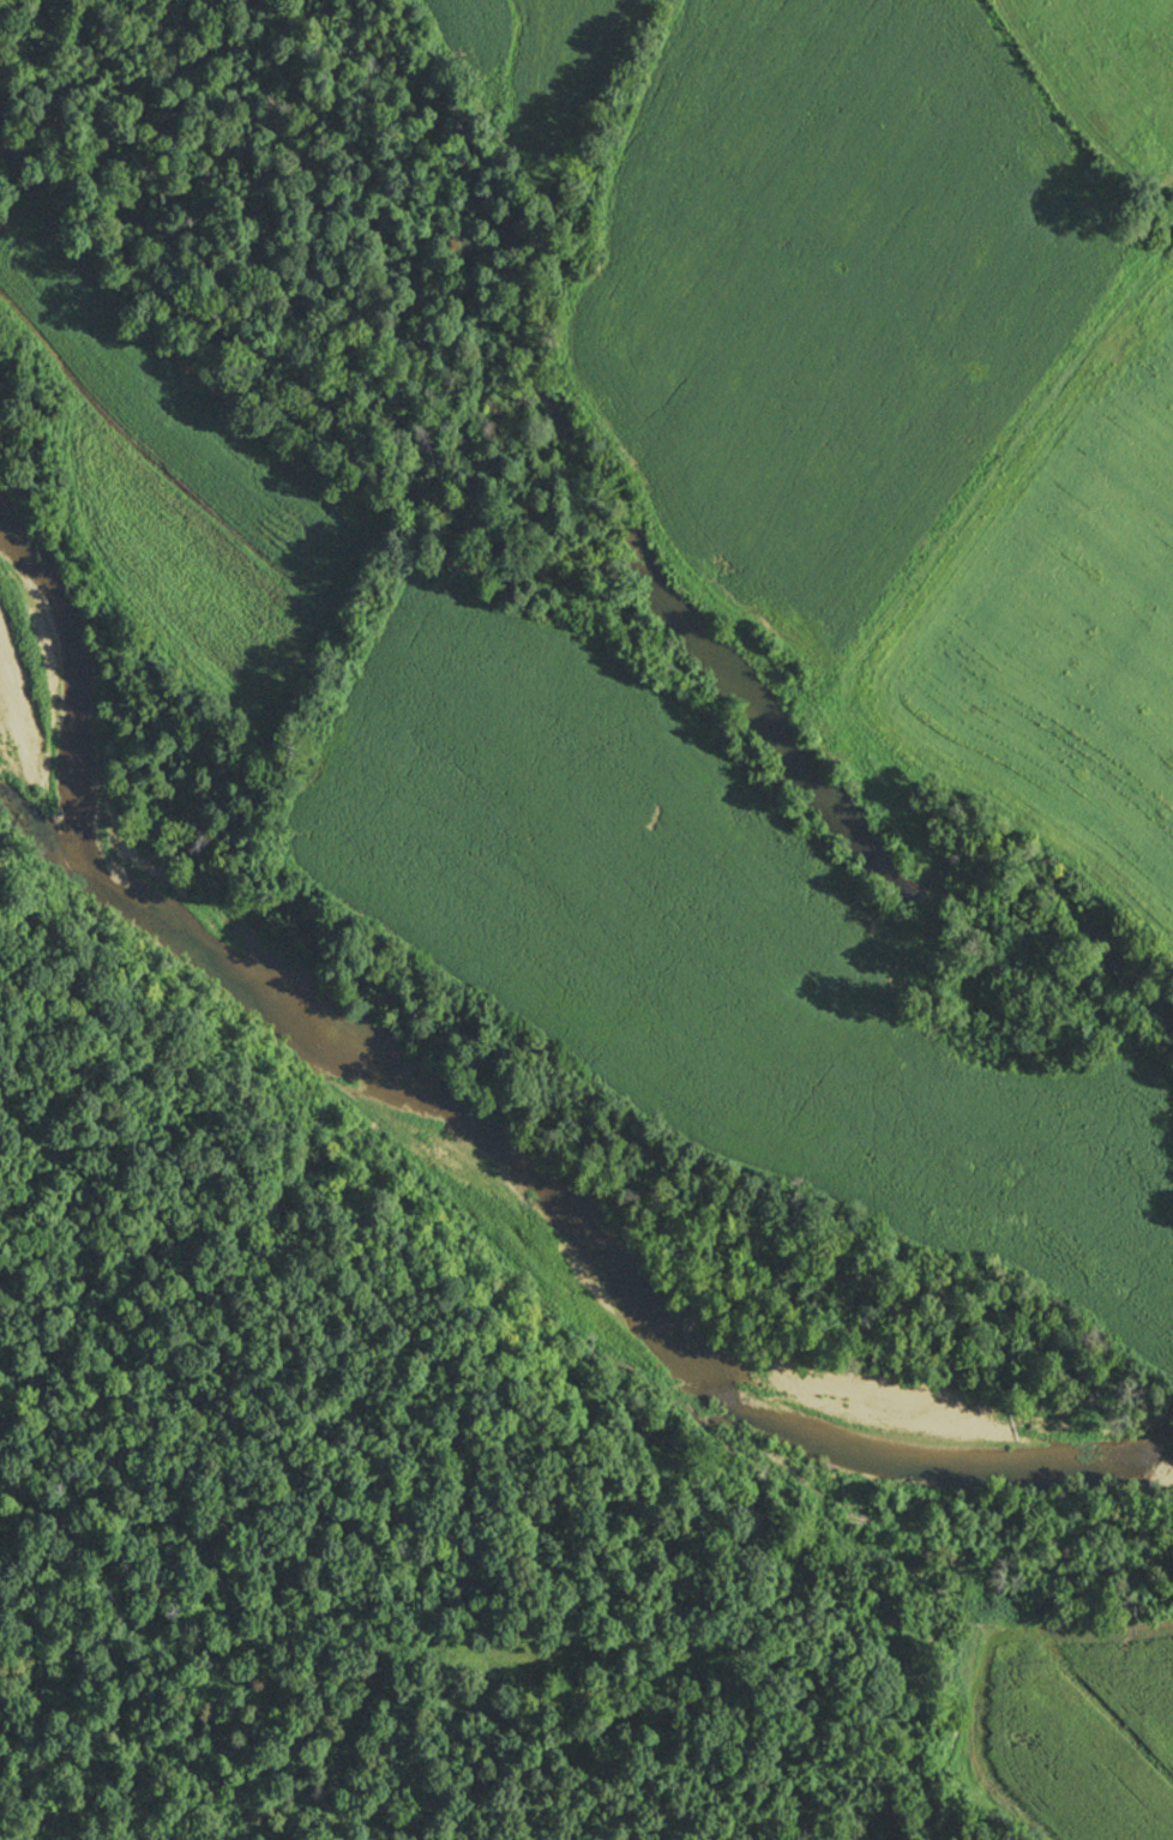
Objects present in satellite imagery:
river: (468, 1154)

